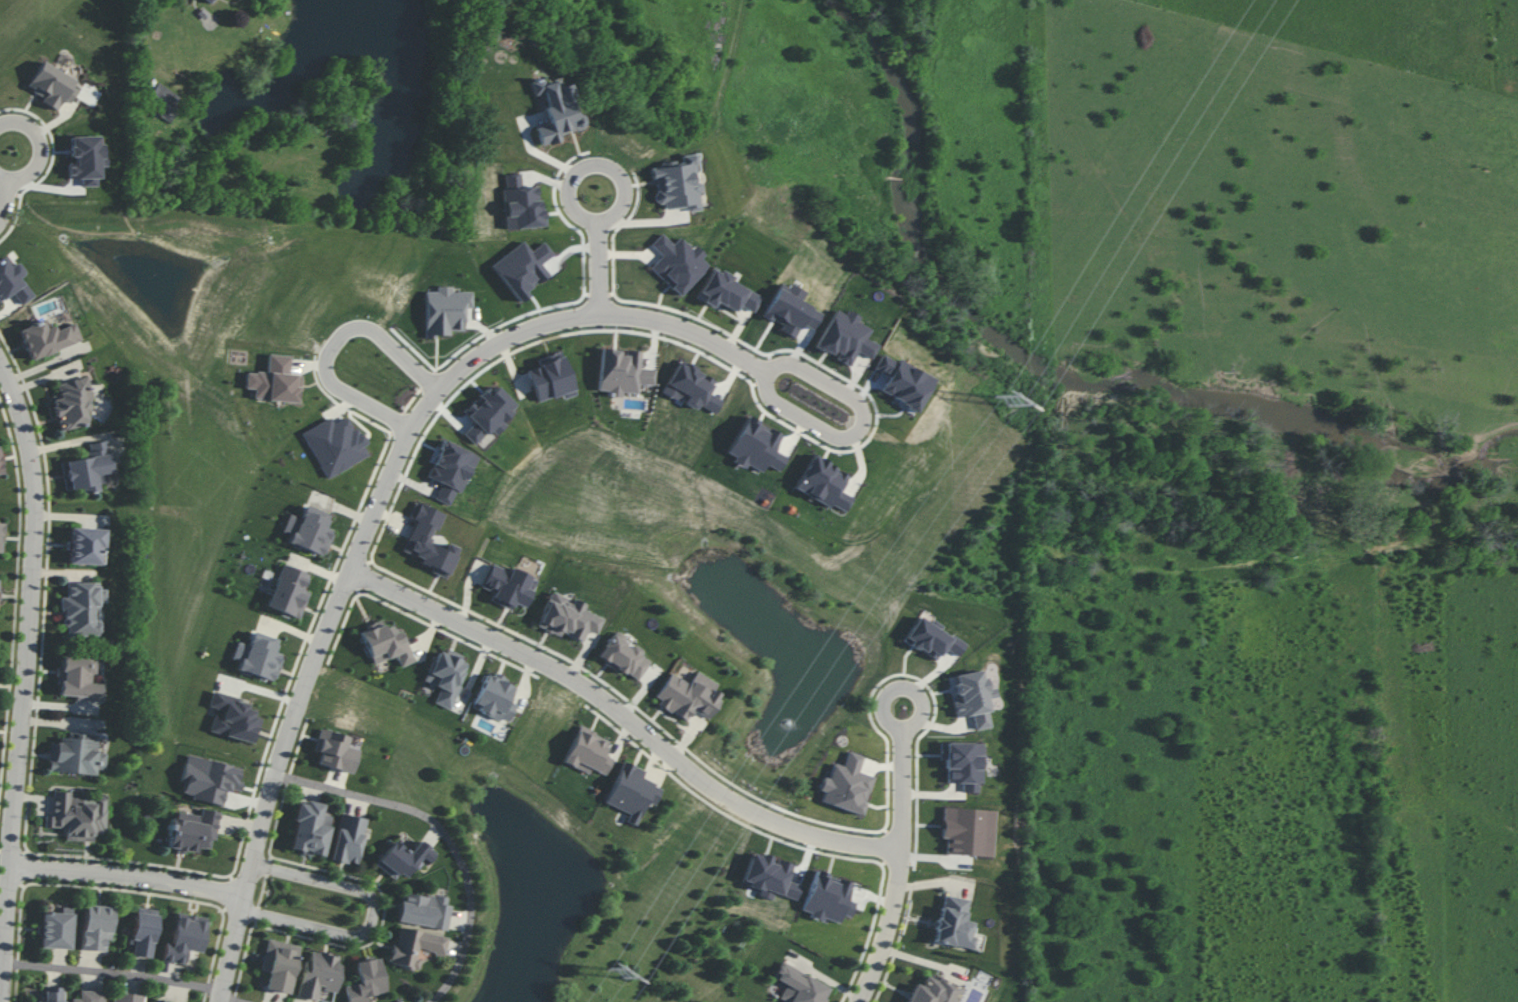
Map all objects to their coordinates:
building: (208, 0)
building: (51, 85)
building: (163, 100)
building: (555, 111)
road: (34, 144)
building: (85, 159)
road: (549, 160)
road: (4, 177)
building: (675, 184)
road: (3, 190)
road: (598, 252)
building: (13, 282)
building: (726, 292)
building: (444, 310)
building: (47, 338)
road: (493, 344)
road: (334, 345)
building: (622, 372)
building: (550, 378)
building: (274, 381)
power tower: (1003, 402)
building: (72, 403)
road: (860, 425)
building: (334, 445)
building: (0, 468)
building: (87, 468)
building: (308, 530)
building: (1, 536)
building: (428, 541)
building: (84, 545)
building: (508, 586)
building: (288, 591)
building: (81, 608)
building: (568, 617)
building: (384, 644)
building: (257, 656)
building: (622, 656)
road: (545, 663)
road: (31, 672)
building: (445, 676)
building: (77, 678)
building: (688, 695)
building: (495, 697)
building: (232, 718)
building: (334, 751)
building: (587, 752)
building: (75, 755)
road: (899, 777)
building: (208, 779)
building: (631, 791)
building: (77, 815)
building: (309, 829)
building: (192, 830)
road: (447, 834)
building: (348, 839)
building: (403, 858)
road: (132, 876)
road: (249, 887)
building: (423, 910)
road: (375, 918)
building: (952, 923)
building: (95, 926)
building: (55, 929)
building: (143, 931)
building: (184, 937)
road: (882, 939)
building: (414, 946)
building: (278, 965)
power tower: (618, 971)
road: (113, 973)
building: (318, 974)
building: (366, 981)
building: (798, 985)
building: (933, 991)
building: (52, 994)
building: (89, 996)
building: (126, 997)
road: (230, 1000)
building: (168, 1001)

